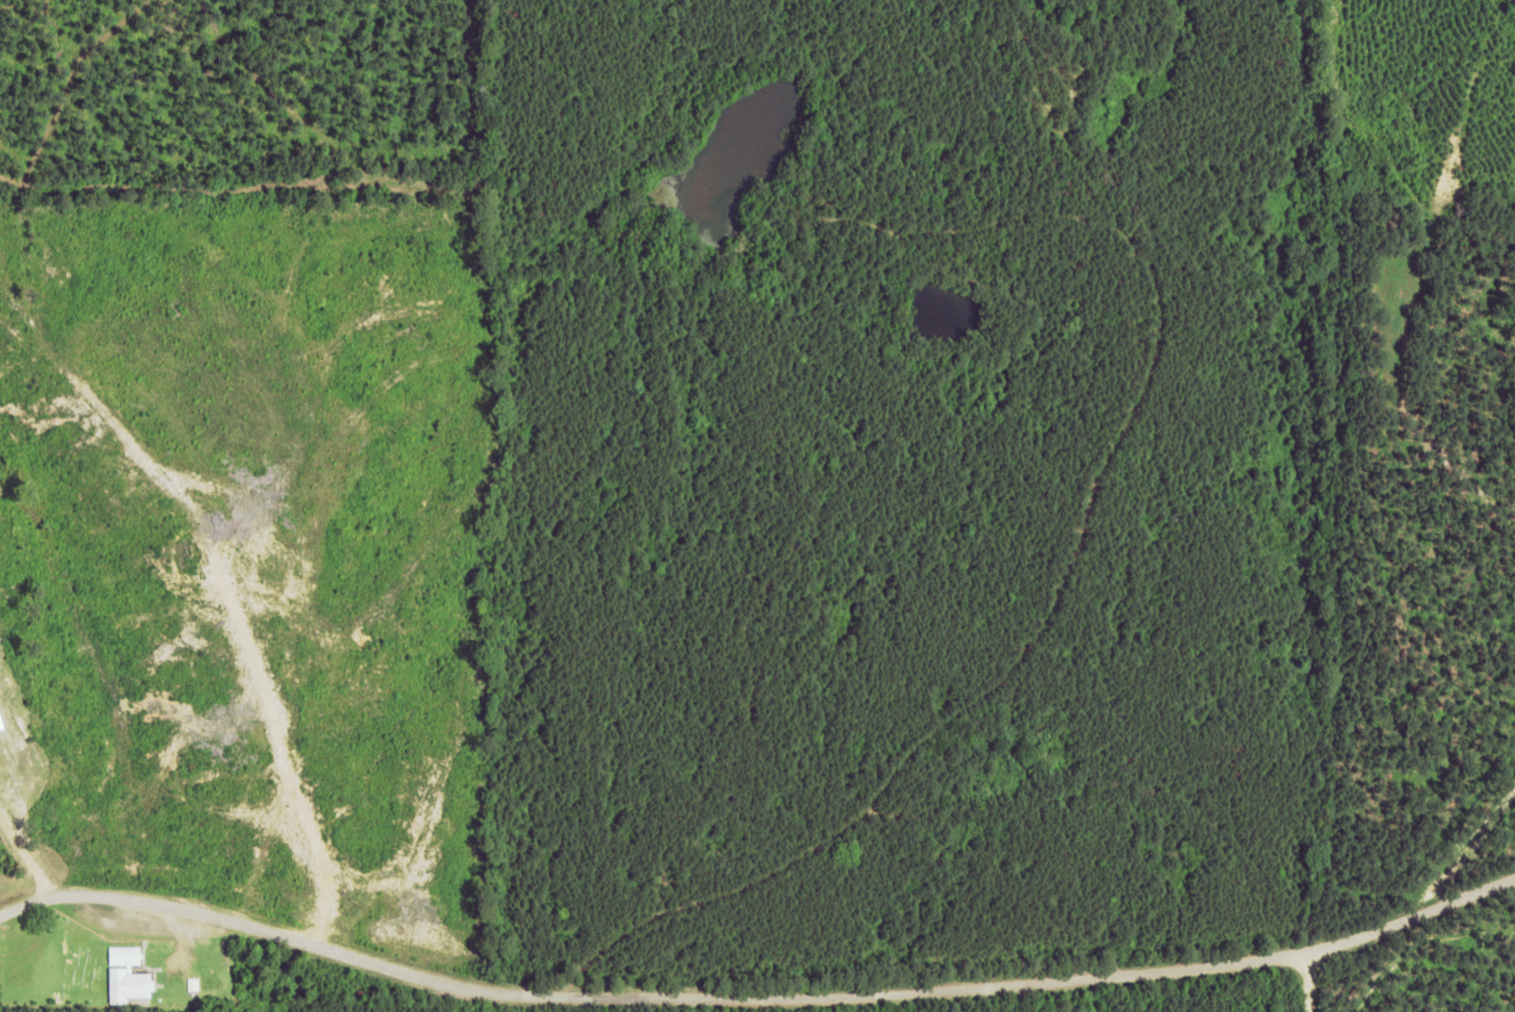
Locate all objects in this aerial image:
building: (0, 725)
road: (237, 954)
building: (126, 976)
road: (1166, 986)
road: (1306, 991)

